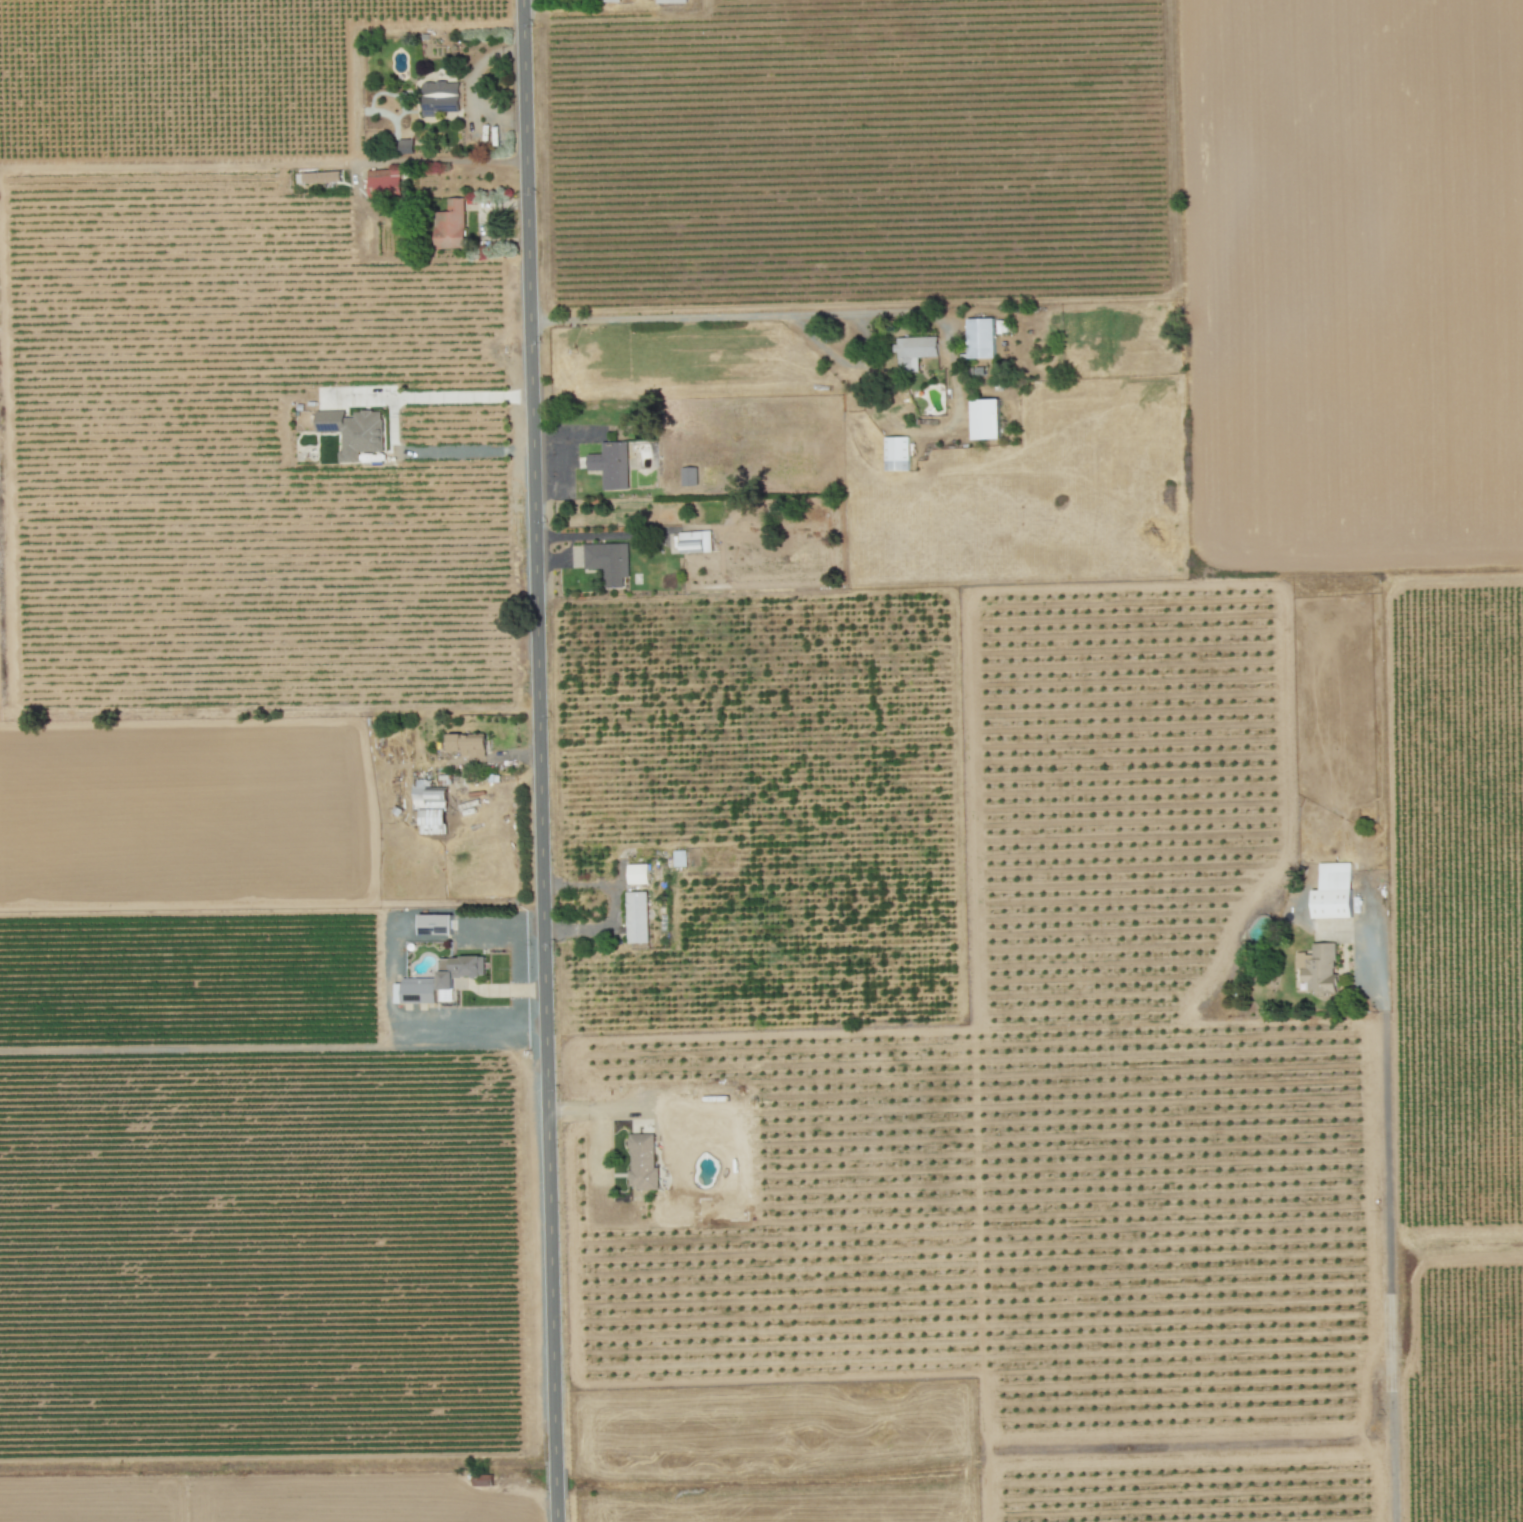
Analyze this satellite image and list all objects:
building: (609, 1)
building: (671, 1)
building: (439, 98)
building: (405, 146)
road: (439, 159)
building: (321, 177)
building: (384, 181)
building: (450, 225)
road: (730, 317)
building: (980, 338)
building: (913, 352)
road: (434, 397)
building: (984, 419)
building: (353, 432)
road: (470, 450)
building: (895, 453)
building: (610, 465)
building: (688, 476)
building: (695, 542)
building: (608, 562)
building: (466, 744)
road: (542, 760)
building: (430, 807)
building: (679, 858)
building: (638, 874)
building: (1332, 892)
road: (614, 905)
building: (637, 917)
building: (434, 924)
road: (505, 933)
building: (1318, 968)
building: (458, 969)
building: (415, 991)
road: (599, 1120)
building: (642, 1162)
road: (1383, 1228)

